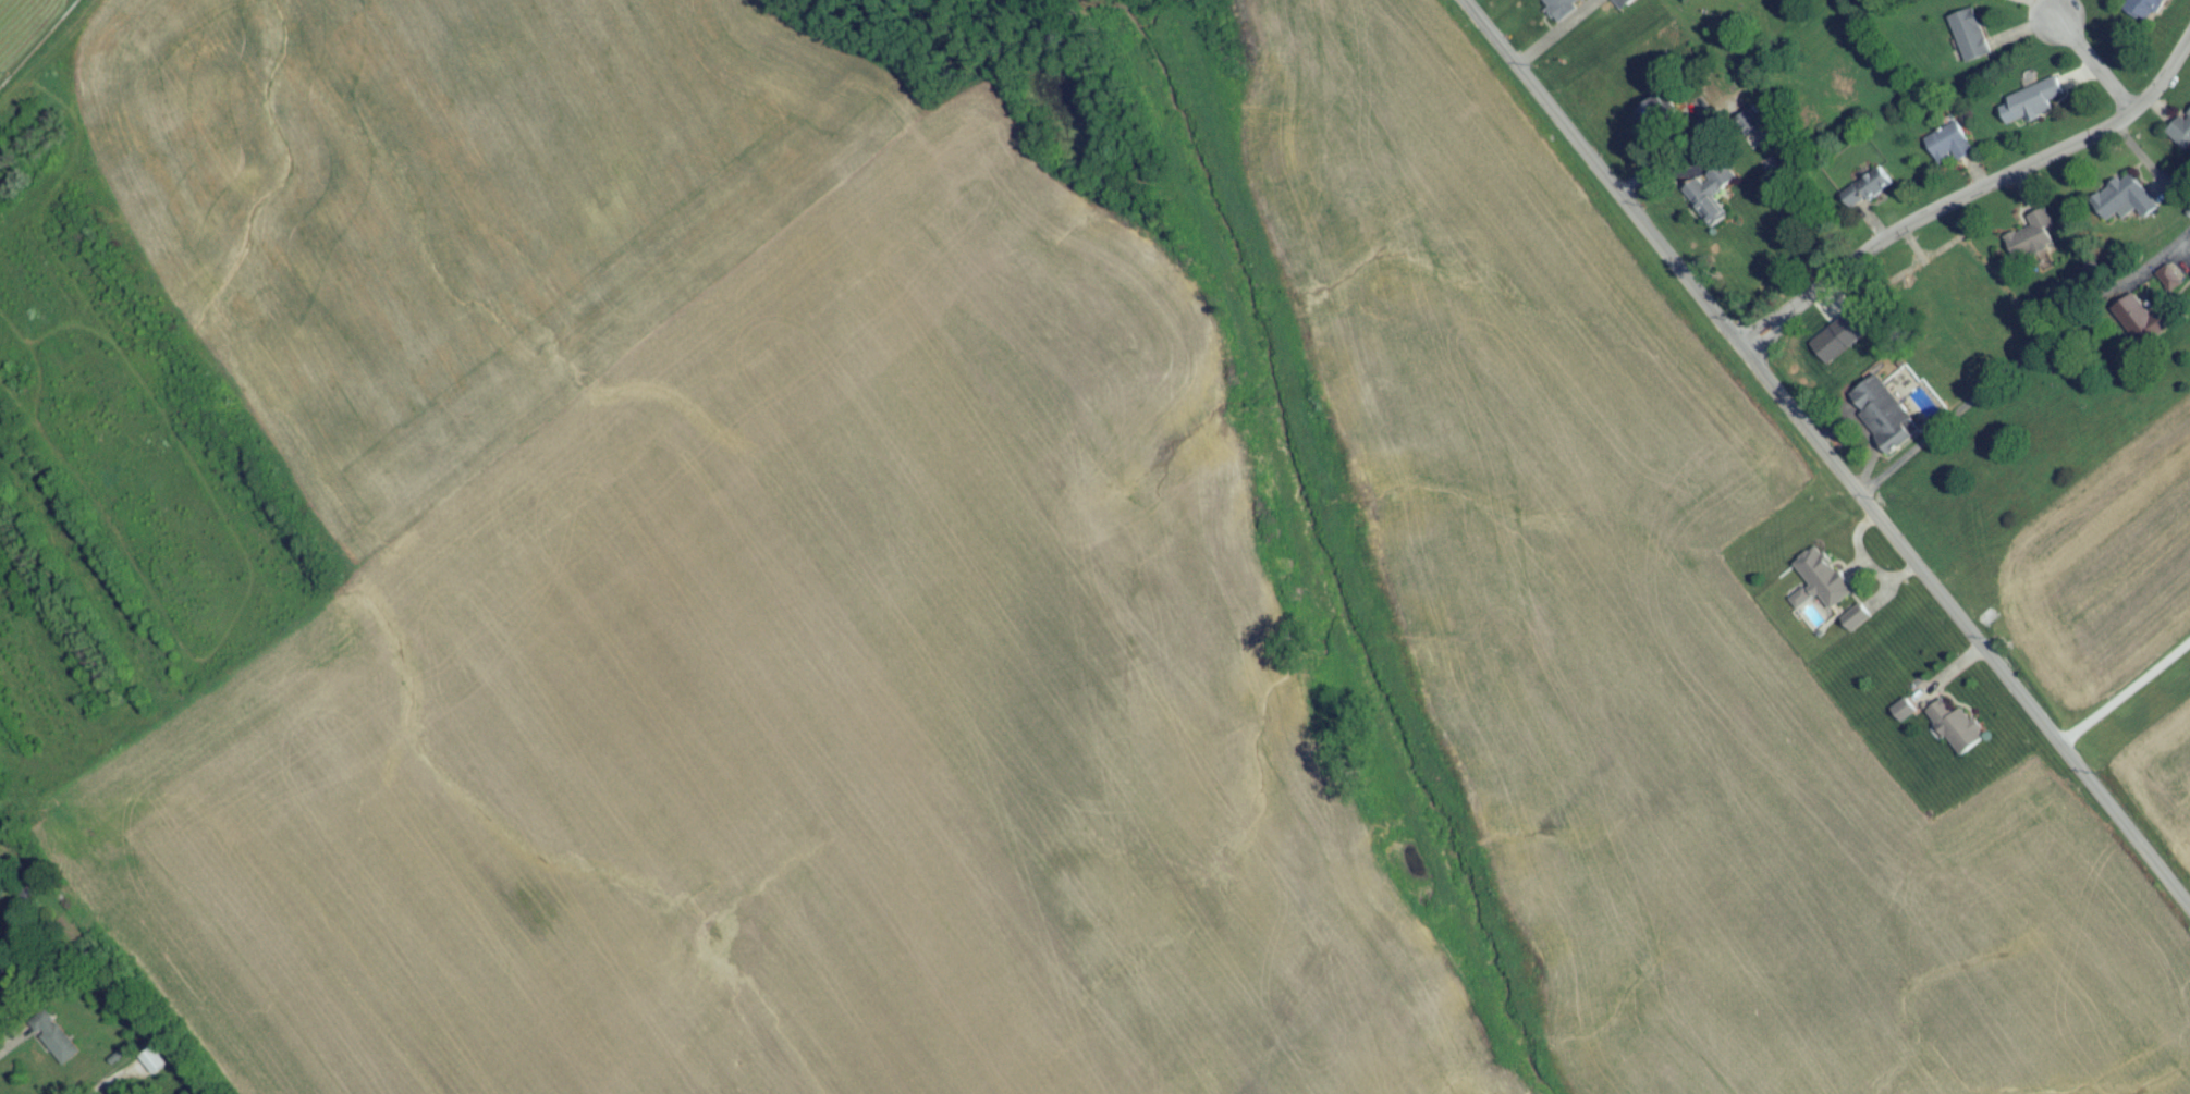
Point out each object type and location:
building: (1610, 1)
building: (1562, 7)
building: (2144, 12)
building: (1968, 41)
road: (2092, 72)
building: (2034, 107)
building: (1654, 126)
building: (2181, 137)
road: (1669, 147)
building: (1946, 152)
building: (1864, 195)
road: (1970, 200)
building: (1706, 202)
building: (2122, 204)
building: (2030, 246)
building: (2189, 279)
road: (2020, 360)
building: (1880, 423)
road: (1825, 458)
building: (1822, 583)
building: (1855, 625)
road: (2122, 693)
building: (1955, 732)
building: (2, 982)
building: (53, 1043)
building: (152, 1066)

